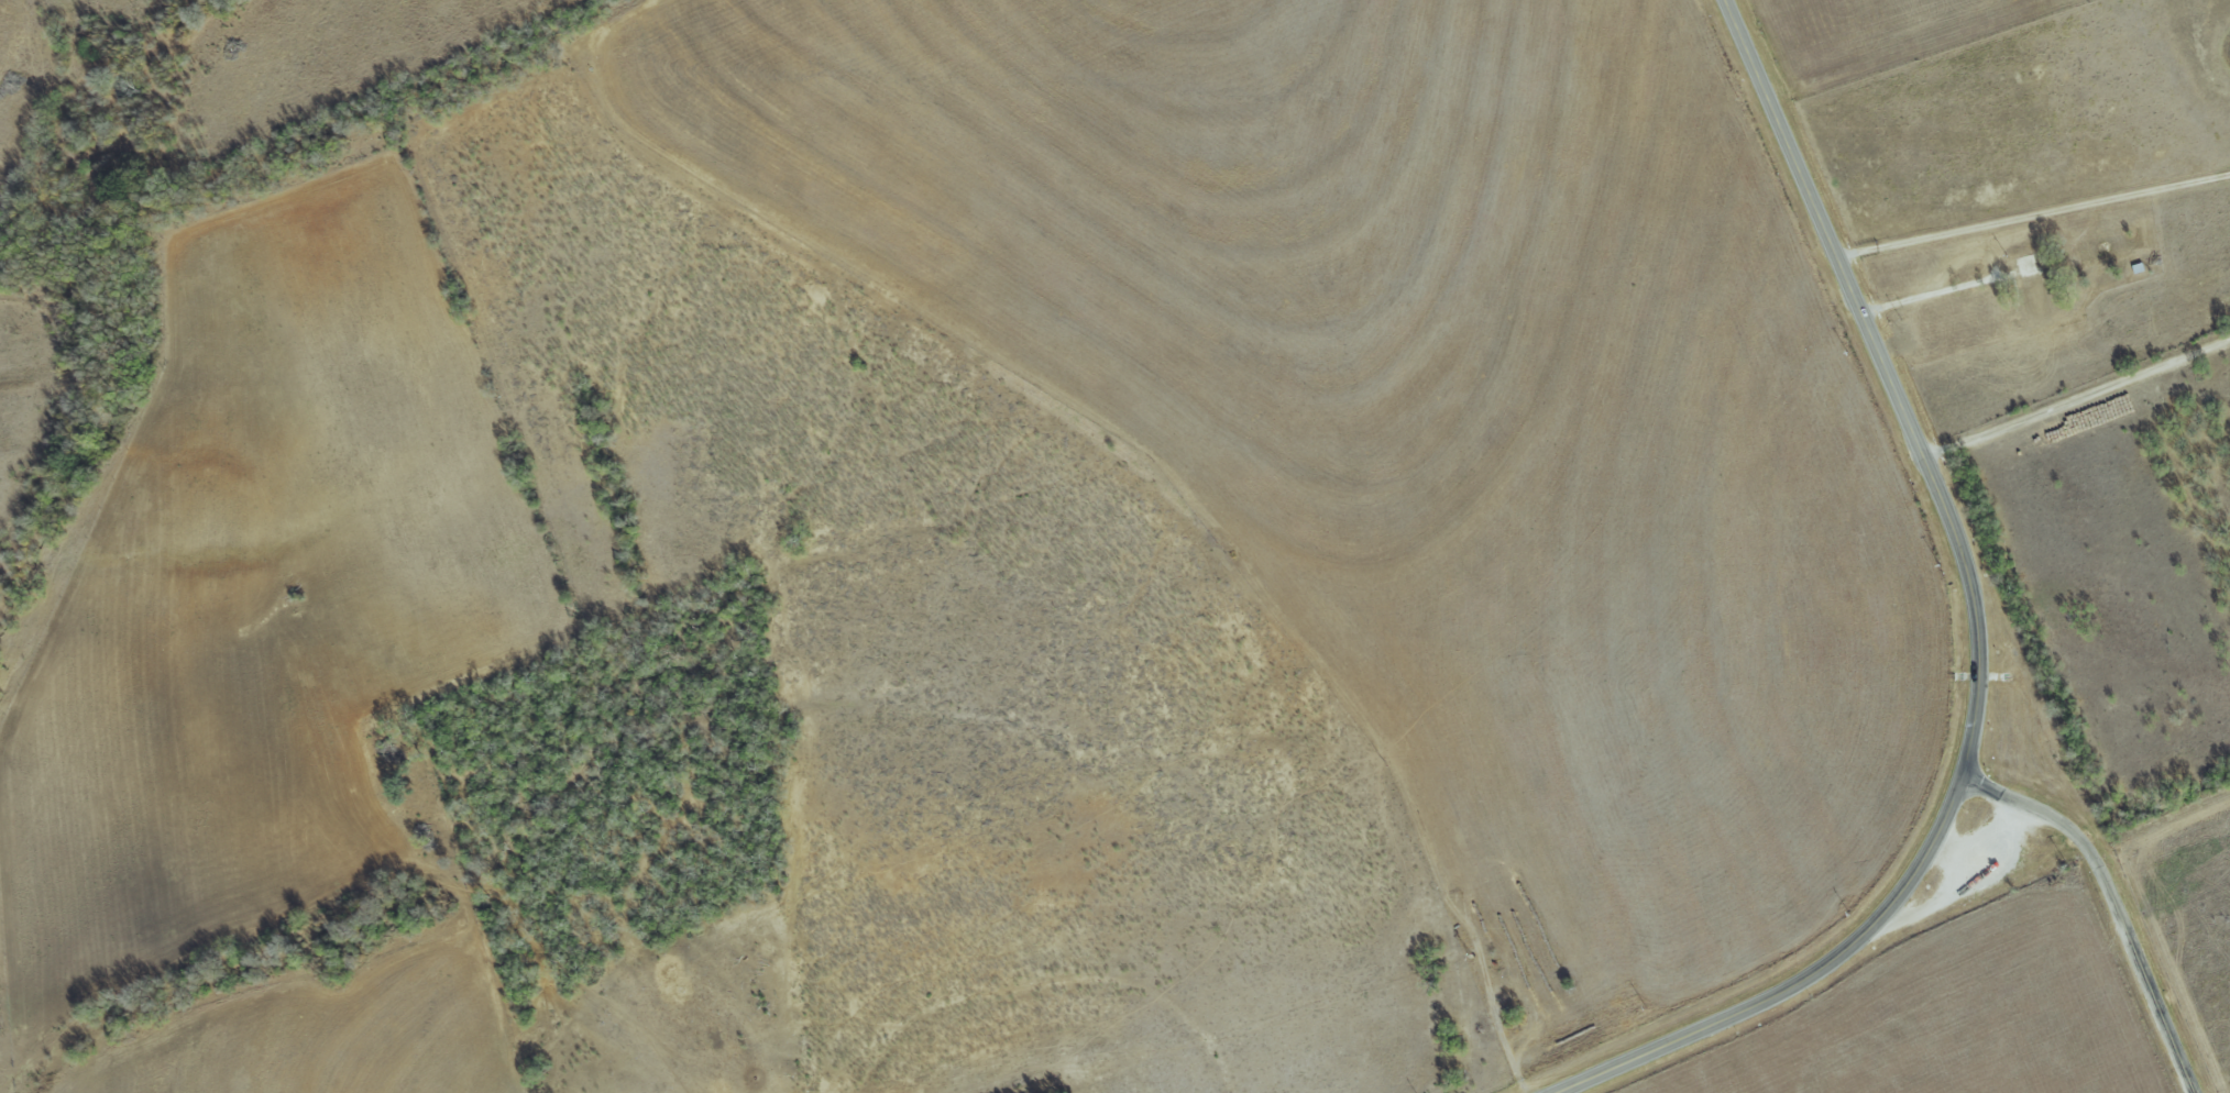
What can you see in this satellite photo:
road: (2033, 214)
road: (1925, 294)
road: (2077, 398)
road: (1977, 631)
road: (2112, 902)

